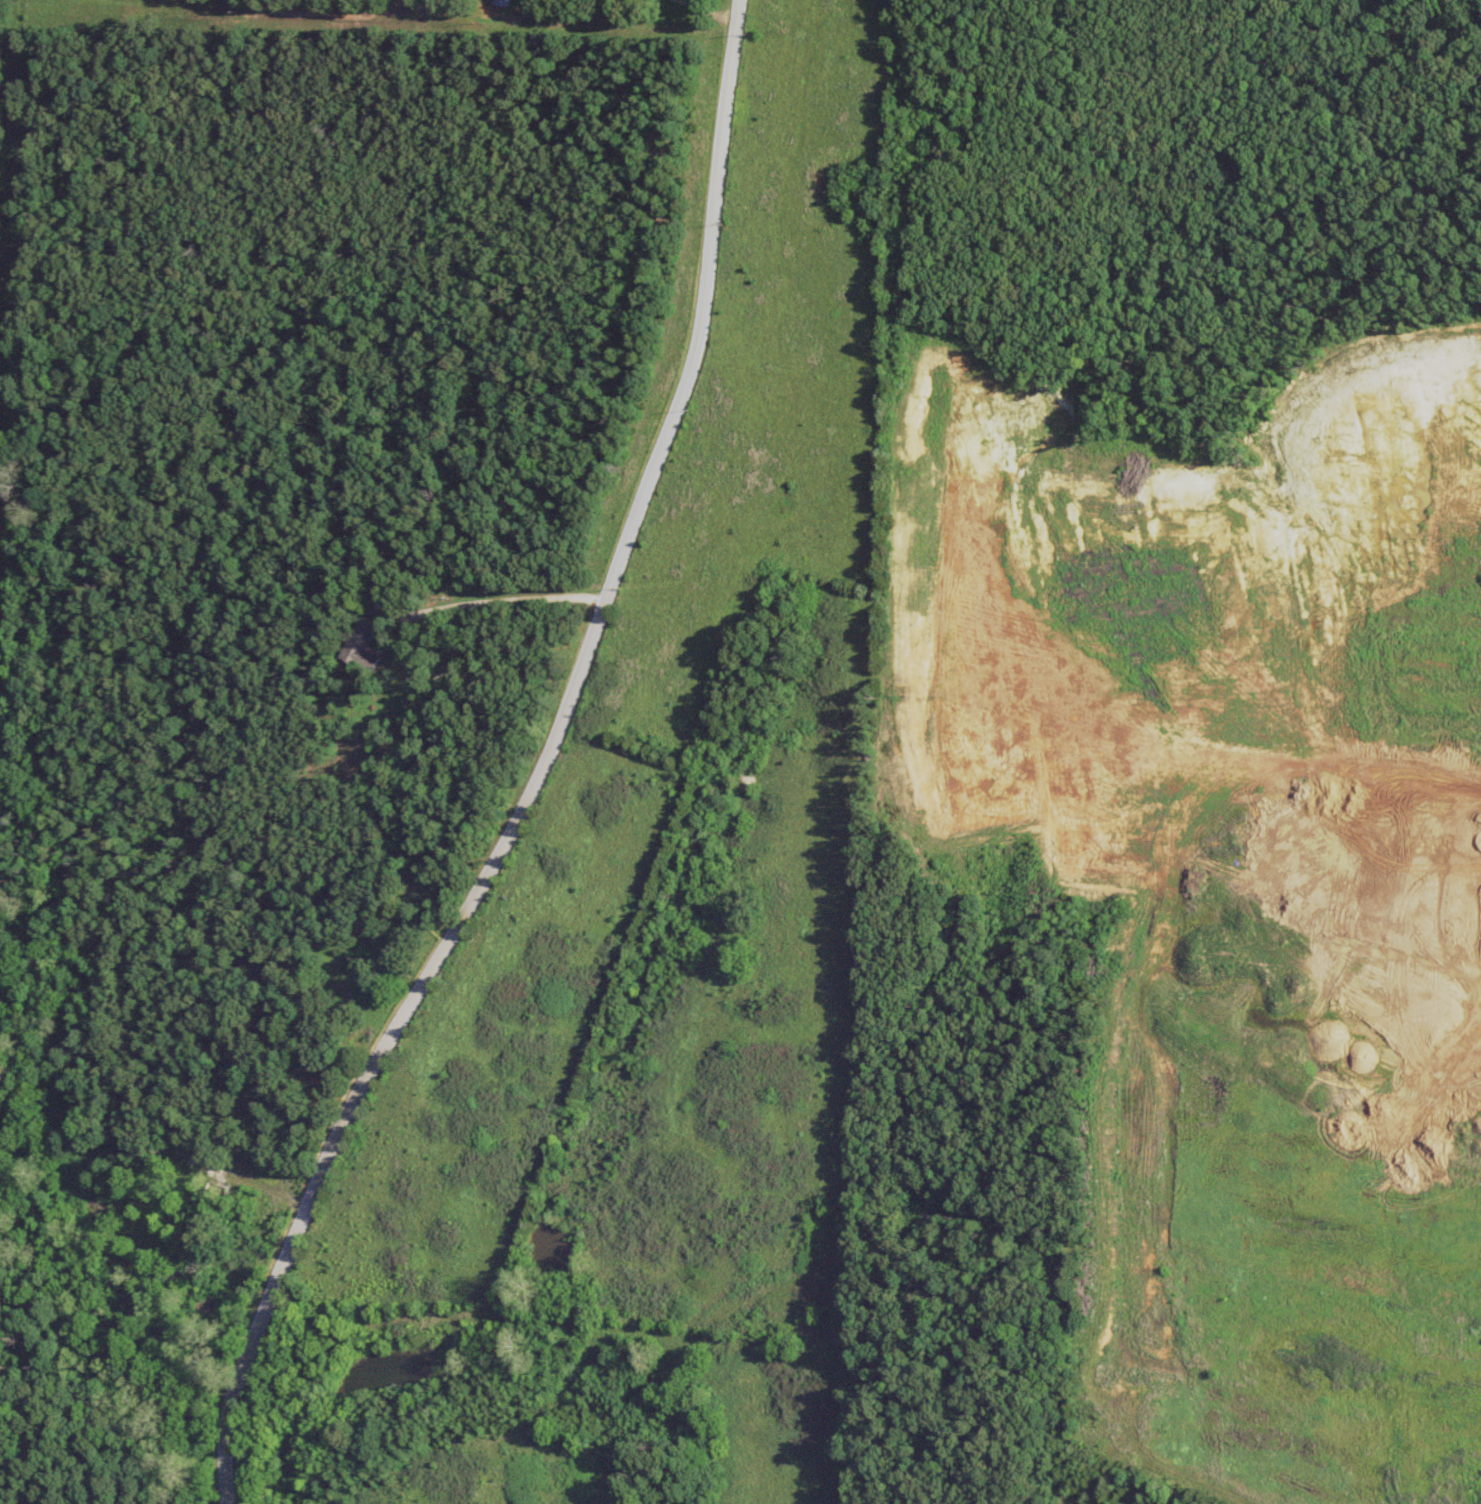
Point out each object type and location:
building: (507, 2)
road: (904, 339)
road: (422, 616)
building: (365, 645)
road: (540, 774)

